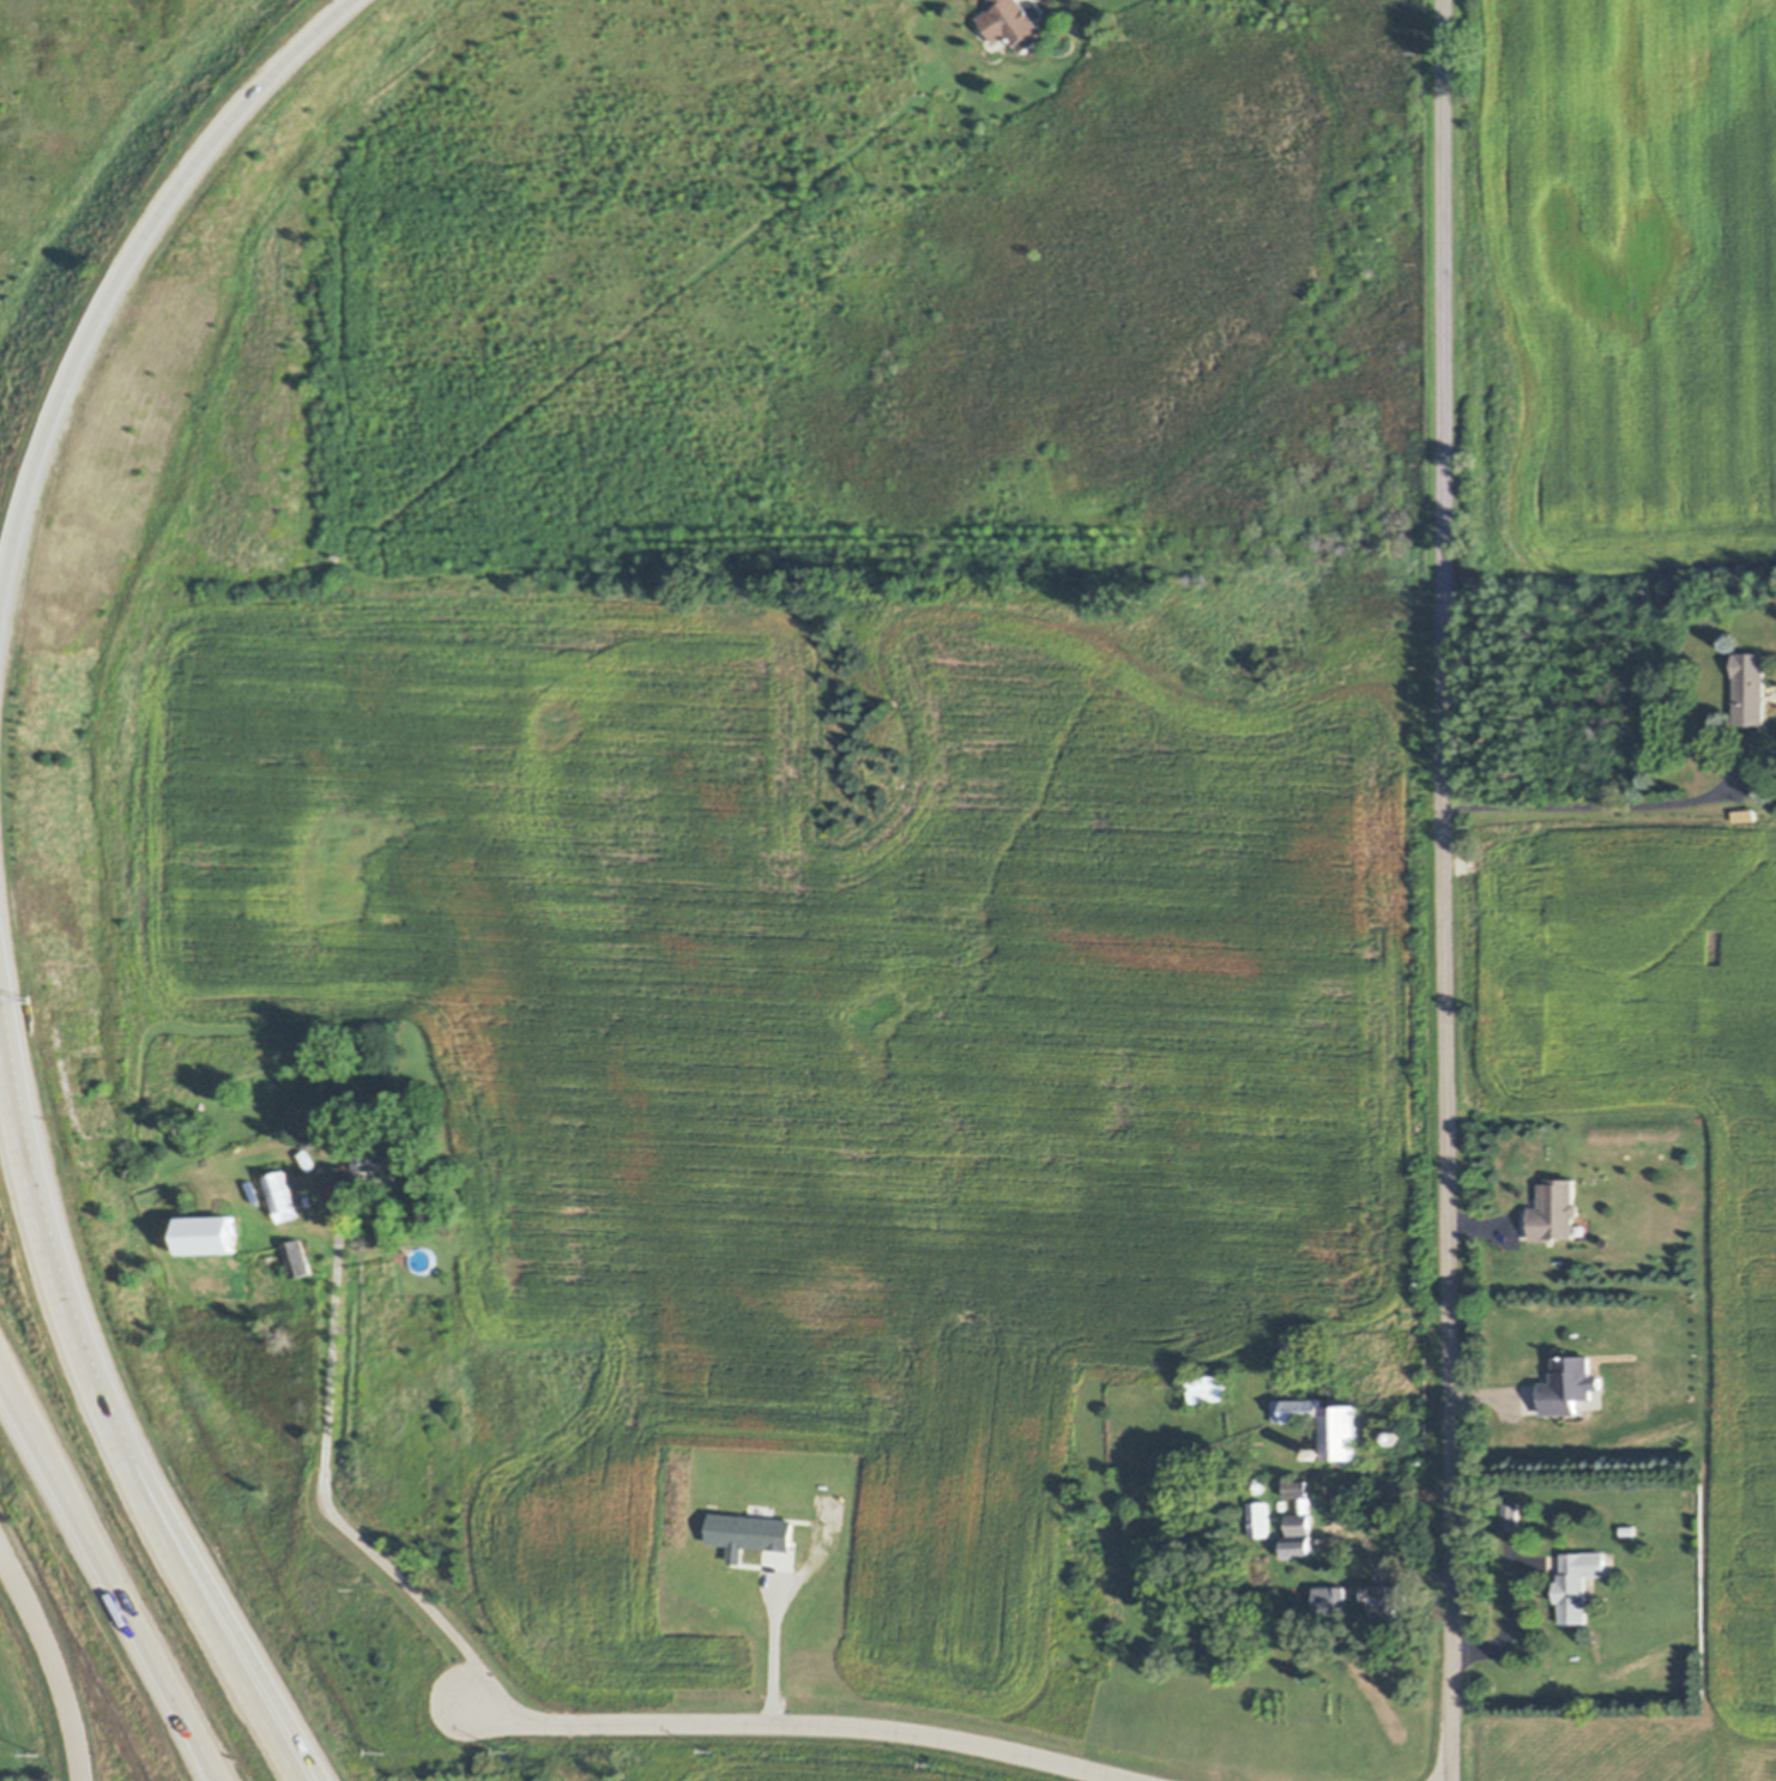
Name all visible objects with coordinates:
building: (1009, 24)
building: (979, 29)
road: (97, 346)
building: (1753, 689)
road: (1589, 796)
building: (1745, 814)
road: (1448, 890)
road: (7, 929)
road: (2, 994)
building: (379, 1111)
building: (385, 1157)
building: (315, 1163)
building: (282, 1196)
building: (1553, 1211)
building: (1581, 1226)
building: (210, 1234)
building: (174, 1246)
building: (296, 1258)
building: (421, 1260)
building: (1298, 1344)
building: (1303, 1363)
building: (1569, 1384)
building: (1208, 1388)
road: (115, 1407)
building: (1298, 1409)
building: (1343, 1435)
building: (1399, 1438)
building: (1318, 1453)
building: (1364, 1483)
building: (1256, 1485)
building: (1297, 1489)
road: (327, 1492)
building: (1511, 1515)
building: (1300, 1517)
building: (1259, 1519)
building: (745, 1528)
building: (1627, 1529)
road: (1358, 1533)
building: (1297, 1548)
road: (110, 1578)
building: (846, 1580)
building: (1576, 1583)
building: (1589, 1586)
building: (1330, 1598)
building: (1388, 1599)
road: (765, 1649)
building: (1305, 1656)
road: (55, 1659)
road: (808, 1726)
road: (301, 1757)
road: (219, 1776)

